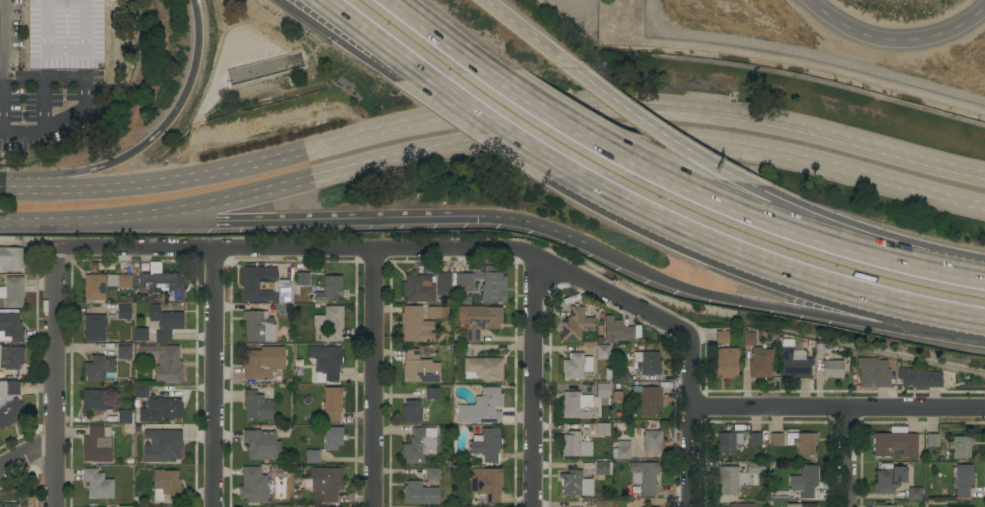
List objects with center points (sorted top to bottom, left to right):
road: (338, 20)
road: (351, 20)
road: (426, 28)
road: (522, 29)
airport: (810, 38)
road: (2, 39)
road: (897, 40)
road: (394, 52)
road: (43, 78)
road: (616, 100)
road: (176, 106)
road: (560, 107)
road: (43, 109)
road: (68, 127)
road: (575, 130)
road: (506, 132)
road: (565, 133)
road: (839, 137)
road: (698, 164)
road: (250, 165)
road: (840, 169)
road: (325, 174)
road: (78, 179)
road: (34, 189)
road: (743, 202)
road: (728, 206)
road: (267, 210)
traffic signals: (475, 216)
road: (398, 217)
road: (106, 218)
road: (530, 223)
road: (840, 245)
road: (416, 250)
road: (744, 254)
building: (10, 260)
road: (951, 273)
building: (302, 279)
building: (473, 283)
building: (135, 284)
building: (253, 285)
road: (681, 285)
building: (419, 288)
building: (329, 289)
building: (14, 292)
building: (284, 292)
road: (835, 303)
road: (934, 309)
building: (281, 310)
building: (124, 312)
building: (436, 312)
building: (330, 321)
building: (481, 321)
building: (165, 322)
building: (576, 324)
building: (415, 325)
building: (10, 327)
building: (258, 327)
building: (94, 328)
building: (617, 330)
building: (141, 334)
building: (722, 337)
building: (748, 338)
building: (825, 349)
building: (602, 351)
building: (124, 353)
building: (11, 357)
building: (326, 361)
building: (164, 362)
building: (645, 362)
building: (726, 362)
building: (794, 362)
building: (260, 363)
building: (760, 363)
building: (576, 366)
building: (419, 368)
building: (483, 368)
building: (99, 369)
building: (832, 369)
building: (873, 372)
road: (52, 378)
building: (919, 378)
road: (210, 379)
road: (371, 379)
road: (531, 381)
building: (141, 391)
building: (432, 393)
building: (618, 397)
building: (94, 399)
building: (646, 399)
building: (9, 403)
building: (583, 403)
building: (332, 404)
building: (256, 406)
building: (165, 407)
building: (482, 408)
road: (836, 409)
building: (411, 411)
building: (125, 417)
building: (137, 419)
building: (137, 428)
building: (602, 429)
building: (332, 437)
building: (755, 439)
building: (776, 439)
building: (932, 440)
building: (652, 441)
building: (729, 442)
building: (802, 443)
building: (895, 443)
building: (486, 444)
building: (97, 445)
building: (162, 445)
building: (419, 445)
building: (575, 445)
building: (262, 446)
building: (960, 447)
building: (621, 450)
road: (26, 454)
building: (312, 456)
road: (687, 458)
road: (841, 458)
building: (602, 469)
building: (433, 474)
building: (644, 477)
building: (734, 477)
building: (889, 480)
building: (963, 480)
building: (804, 481)
building: (326, 482)
building: (486, 483)
building: (98, 484)
building: (576, 484)
building: (166, 485)
building: (253, 485)
building: (419, 494)
building: (914, 494)
building: (602, 503)
building: (10, 505)
building: (741, 505)
building: (793, 505)
building: (0, 506)
building: (883, 506)
building: (970, 506)

